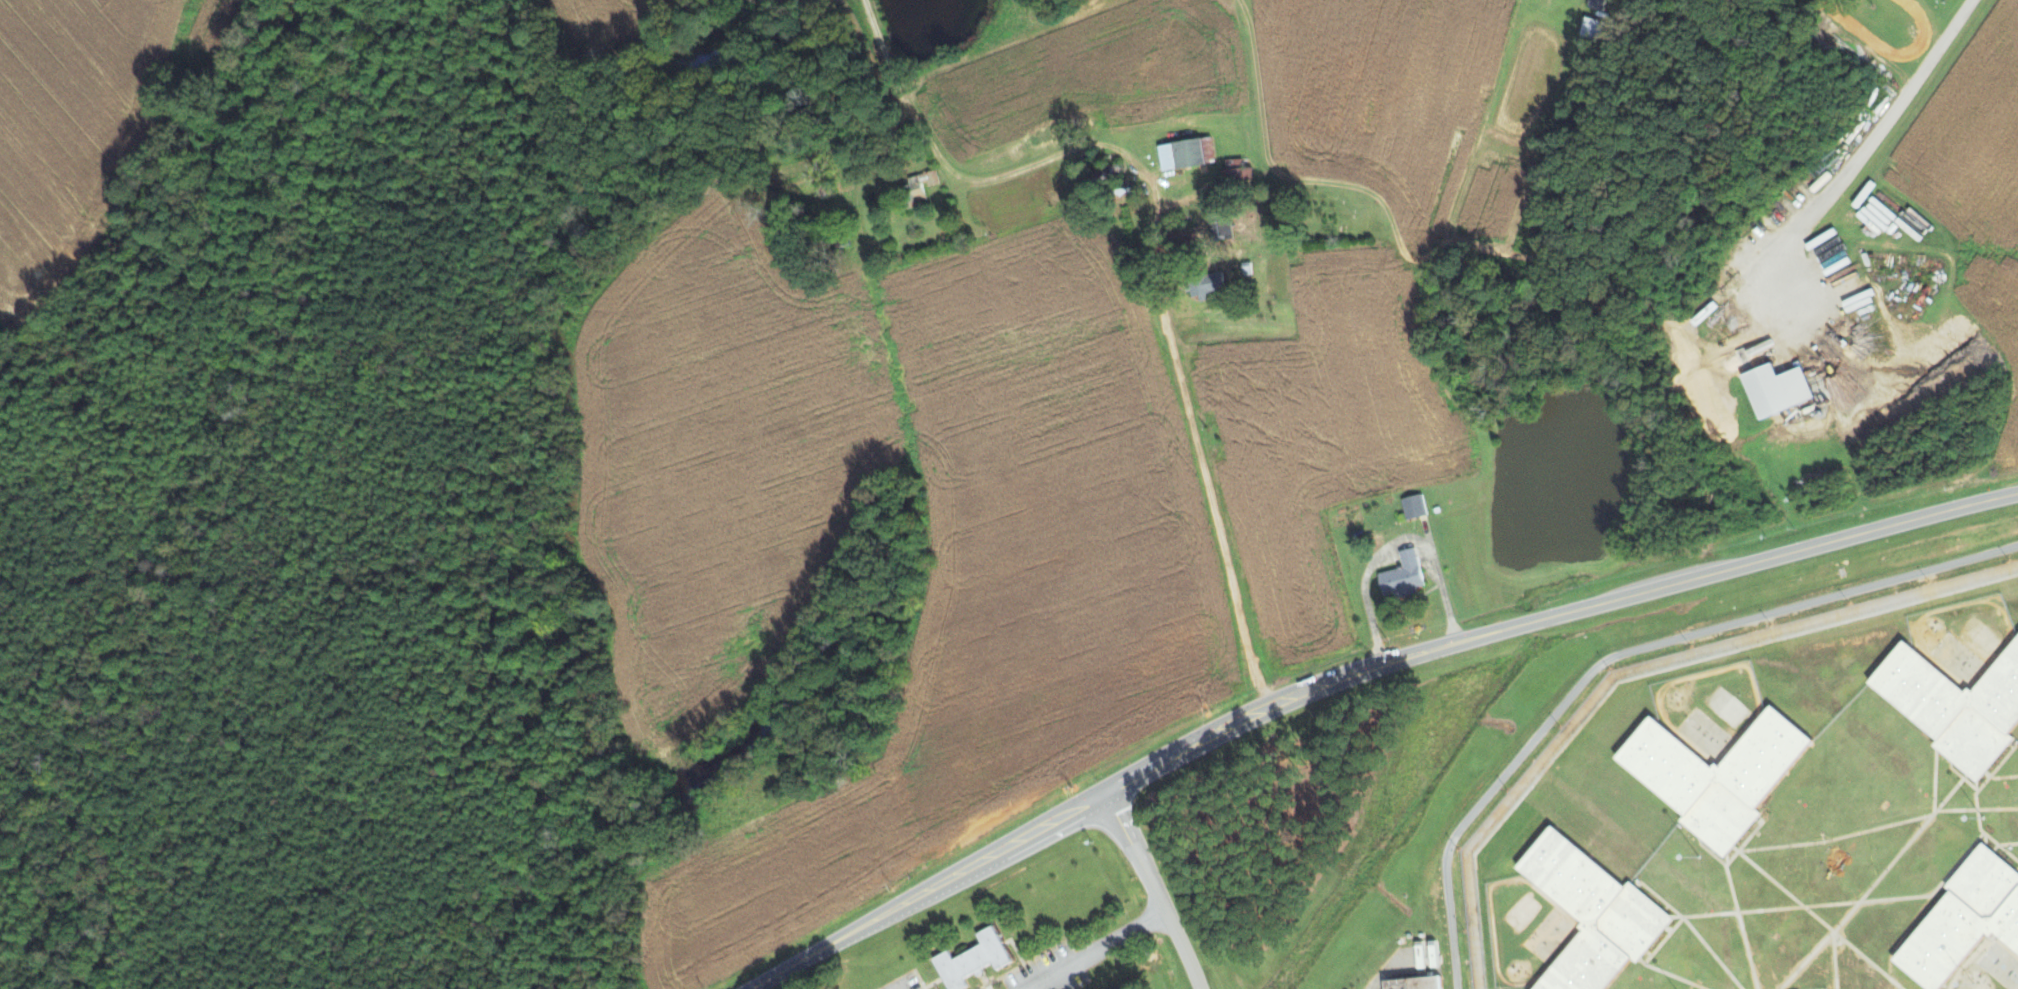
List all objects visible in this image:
building: (1592, 29)
road: (1882, 120)
building: (1186, 152)
building: (918, 186)
road: (1156, 238)
building: (1206, 284)
road: (1400, 294)
road: (1778, 348)
building: (1777, 388)
building: (1413, 506)
building: (1402, 576)
road: (1623, 652)
road: (1358, 673)
building: (1955, 705)
building: (1716, 774)
road: (1153, 891)
building: (1592, 914)
building: (1964, 919)
road: (1096, 951)
building: (971, 959)
building: (1414, 983)

